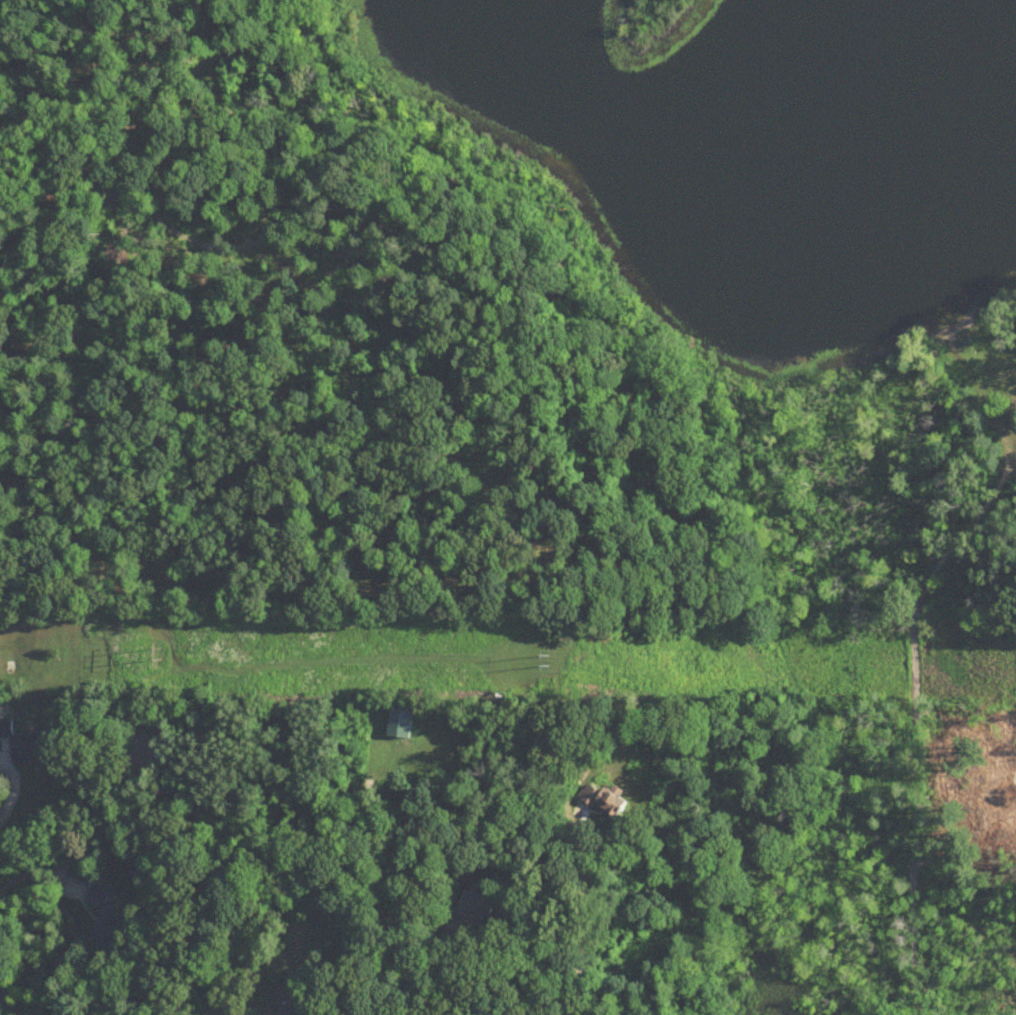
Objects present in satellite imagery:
power tower: (159, 649)
power tower: (558, 663)
building: (27, 742)
building: (431, 754)
building: (430, 765)
road: (14, 782)
building: (605, 799)
road: (38, 873)
building: (470, 911)
building: (104, 917)
road: (585, 929)
road: (455, 979)
building: (292, 1000)
road: (6, 1005)

